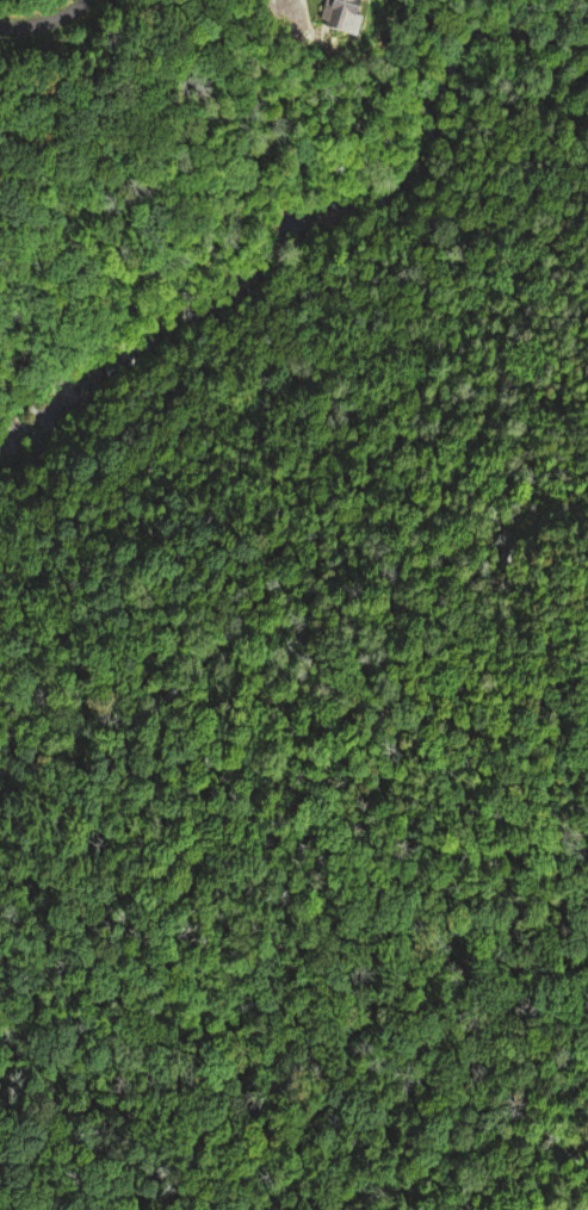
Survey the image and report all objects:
road: (39, 18)
road: (309, 407)

